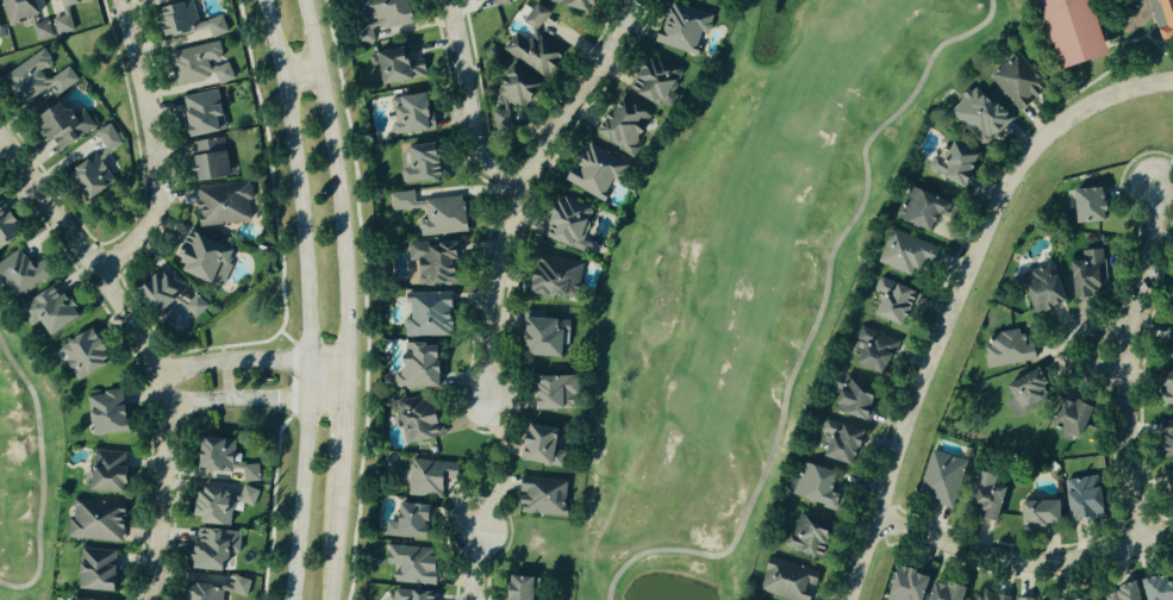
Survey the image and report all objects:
building: (164, 1)
building: (568, 4)
building: (17, 10)
building: (60, 15)
building: (378, 17)
building: (534, 17)
building: (1161, 18)
building: (181, 20)
building: (679, 27)
building: (1065, 30)
building: (39, 31)
park: (1097, 39)
building: (531, 52)
building: (196, 64)
building: (393, 65)
road: (300, 71)
building: (35, 79)
building: (650, 82)
building: (1013, 83)
building: (507, 95)
road: (1115, 96)
road: (472, 105)
building: (198, 113)
building: (408, 113)
building: (975, 114)
building: (57, 125)
building: (619, 126)
building: (106, 138)
road: (154, 151)
building: (204, 158)
building: (416, 163)
building: (950, 163)
building: (591, 170)
building: (89, 175)
road: (525, 192)
building: (1085, 205)
building: (218, 206)
building: (919, 208)
building: (563, 223)
building: (4, 225)
building: (903, 254)
building: (199, 260)
building: (429, 263)
building: (1086, 273)
building: (18, 274)
park: (745, 277)
building: (549, 279)
building: (1040, 290)
road: (306, 298)
road: (344, 298)
building: (168, 301)
building: (888, 301)
building: (1171, 306)
building: (43, 311)
building: (424, 314)
road: (815, 325)
building: (541, 333)
building: (1168, 344)
road: (1061, 345)
building: (1005, 349)
road: (145, 350)
building: (869, 350)
building: (80, 352)
road: (941, 354)
road: (1128, 364)
building: (416, 365)
road: (254, 367)
building: (1165, 390)
building: (549, 393)
building: (1021, 394)
building: (850, 398)
road: (257, 401)
building: (102, 413)
building: (1066, 418)
building: (411, 419)
building: (1165, 438)
building: (836, 442)
building: (532, 445)
building: (220, 460)
park: (27, 471)
building: (104, 471)
road: (37, 475)
building: (426, 477)
building: (938, 480)
building: (1168, 480)
building: (812, 486)
building: (538, 496)
building: (981, 498)
building: (1078, 498)
building: (217, 502)
building: (1034, 514)
building: (405, 520)
building: (94, 521)
building: (803, 536)
building: (202, 551)
road: (1024, 562)
building: (408, 564)
road: (474, 567)
building: (93, 570)
building: (785, 580)
building: (903, 585)
building: (513, 588)
building: (1154, 589)
building: (213, 590)
building: (940, 592)
building: (1119, 593)
building: (408, 595)
building: (987, 596)
building: (1075, 598)
building: (65, 599)

